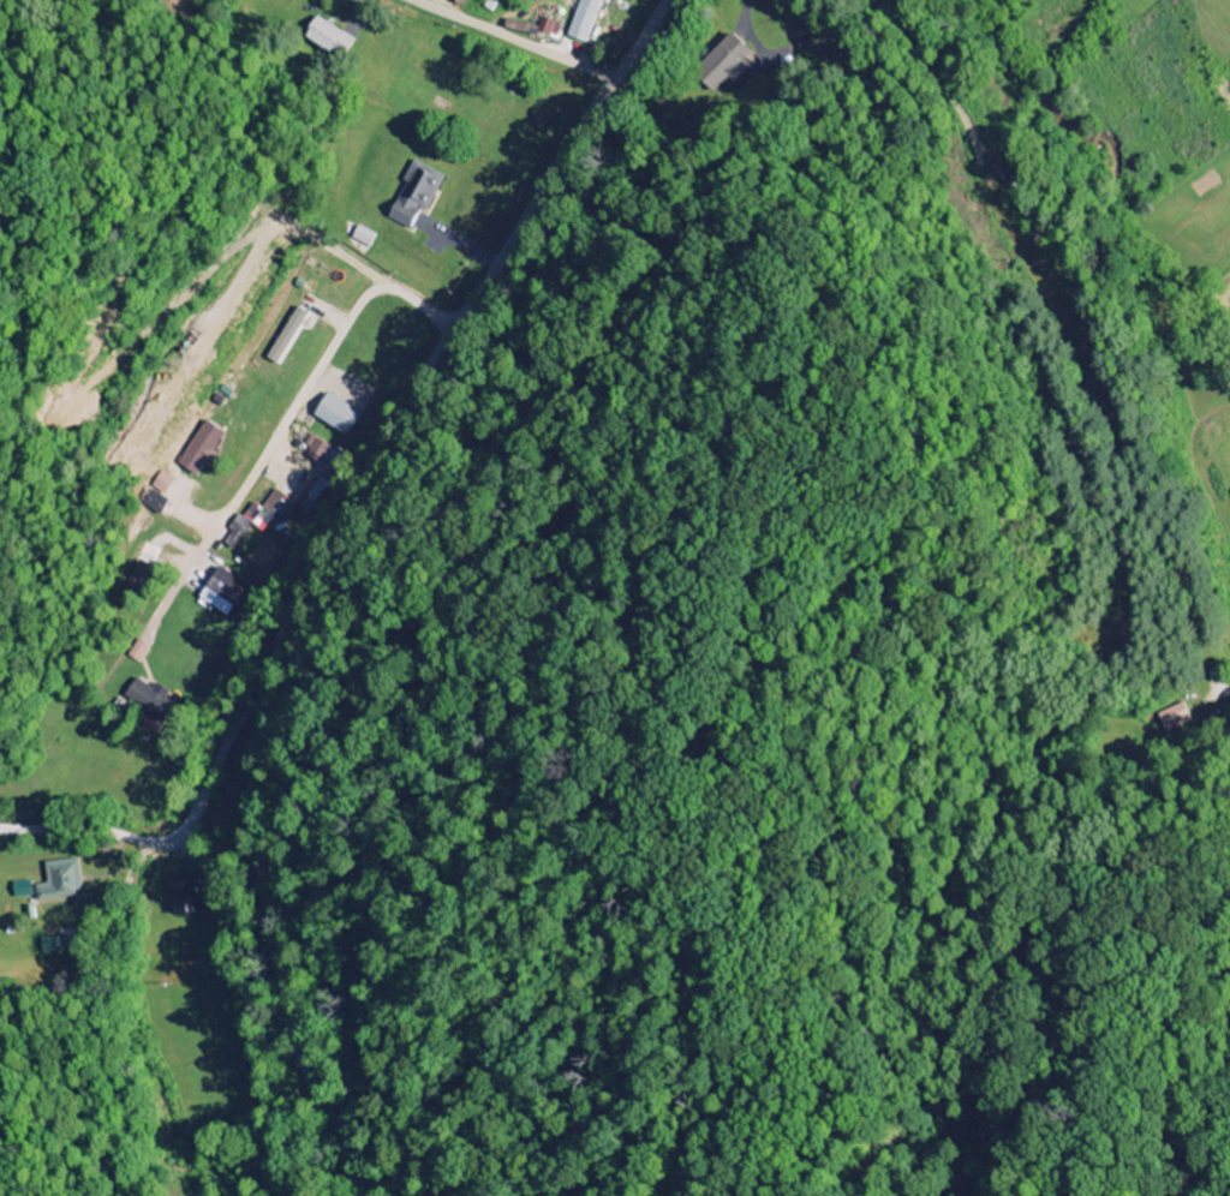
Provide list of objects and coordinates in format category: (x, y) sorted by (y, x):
building: (461, 4)
building: (583, 20)
building: (518, 26)
building: (548, 29)
road: (513, 37)
building: (333, 38)
building: (726, 62)
building: (412, 196)
building: (363, 237)
building: (285, 336)
building: (336, 414)
road: (280, 430)
building: (199, 448)
building: (315, 449)
building: (161, 483)
building: (155, 502)
building: (259, 518)
road: (314, 562)
building: (235, 588)
building: (138, 651)
building: (148, 700)
building: (1174, 718)
road: (193, 817)
building: (59, 880)
building: (20, 890)
building: (183, 897)
building: (49, 946)

